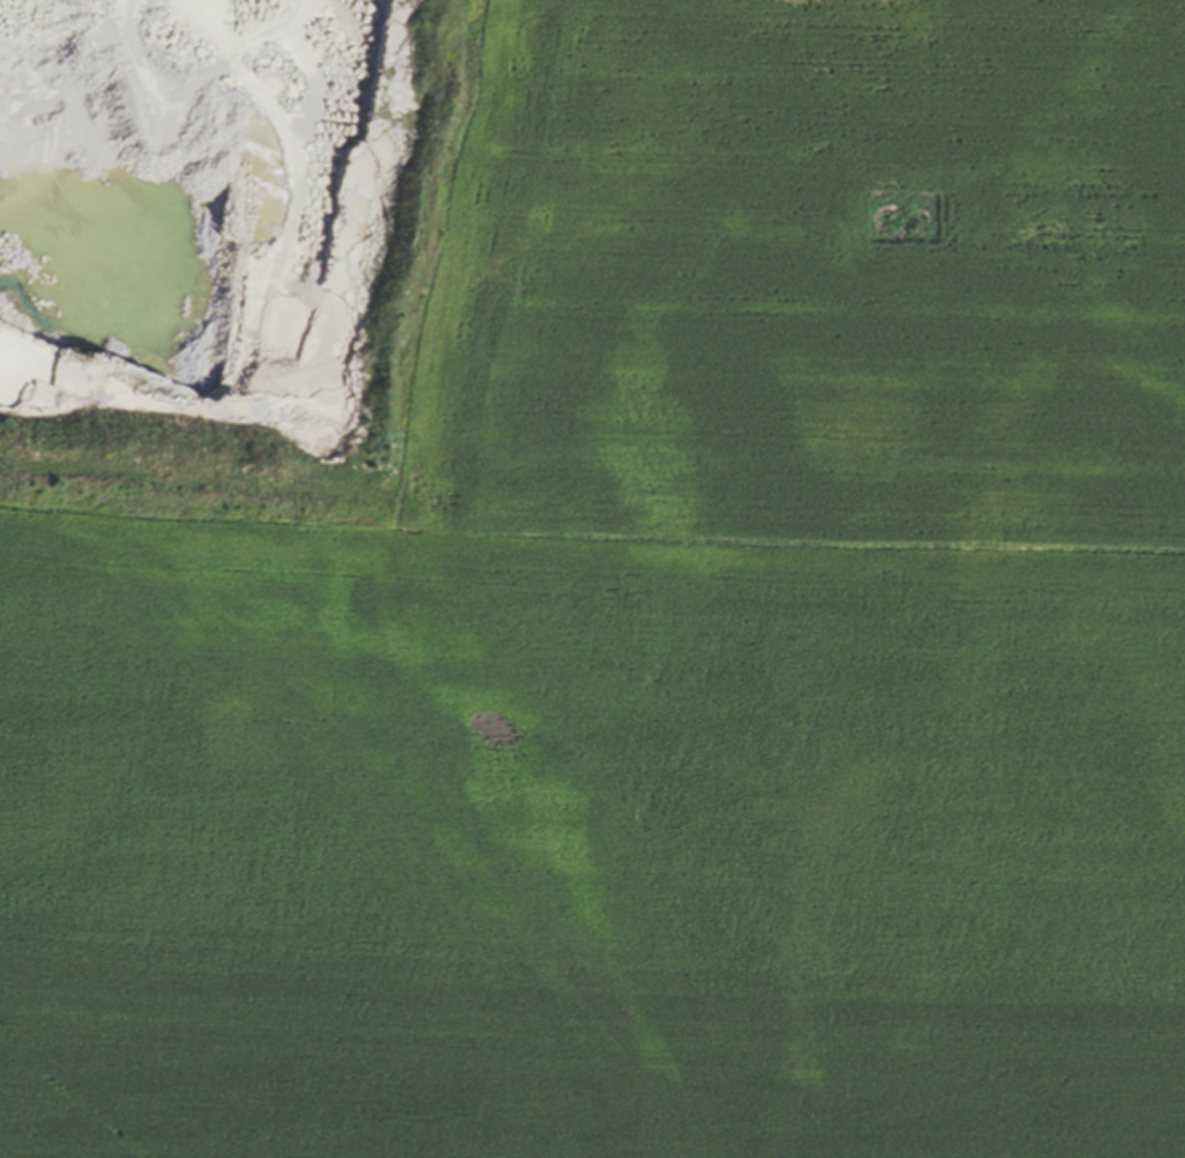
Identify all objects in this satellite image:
quarry: (138, 263)

